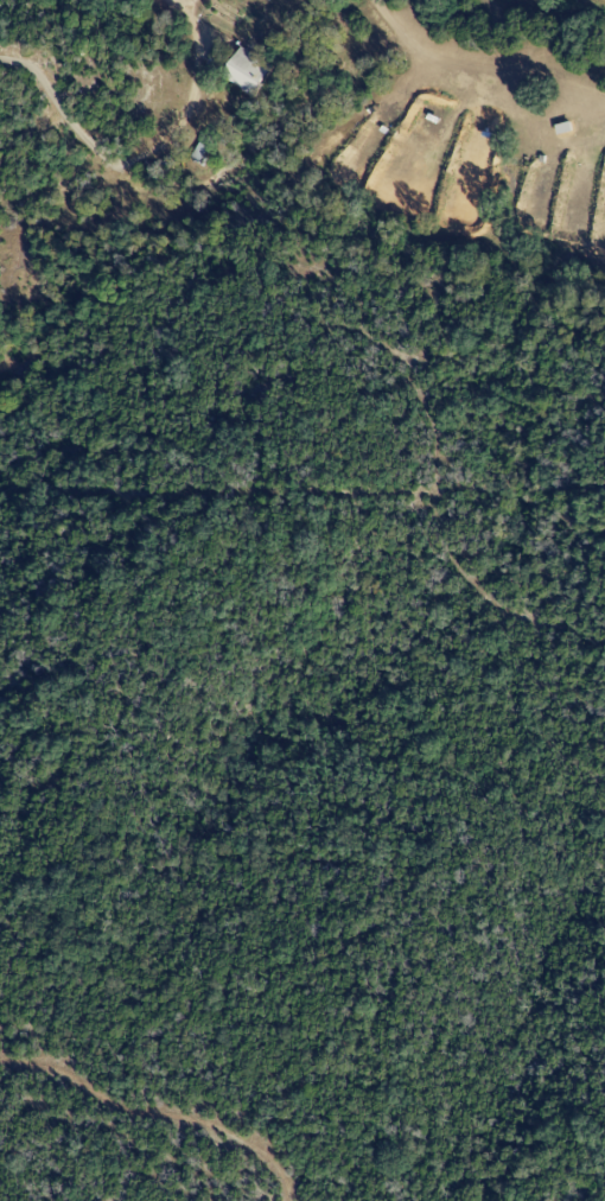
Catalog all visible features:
building: (247, 70)

